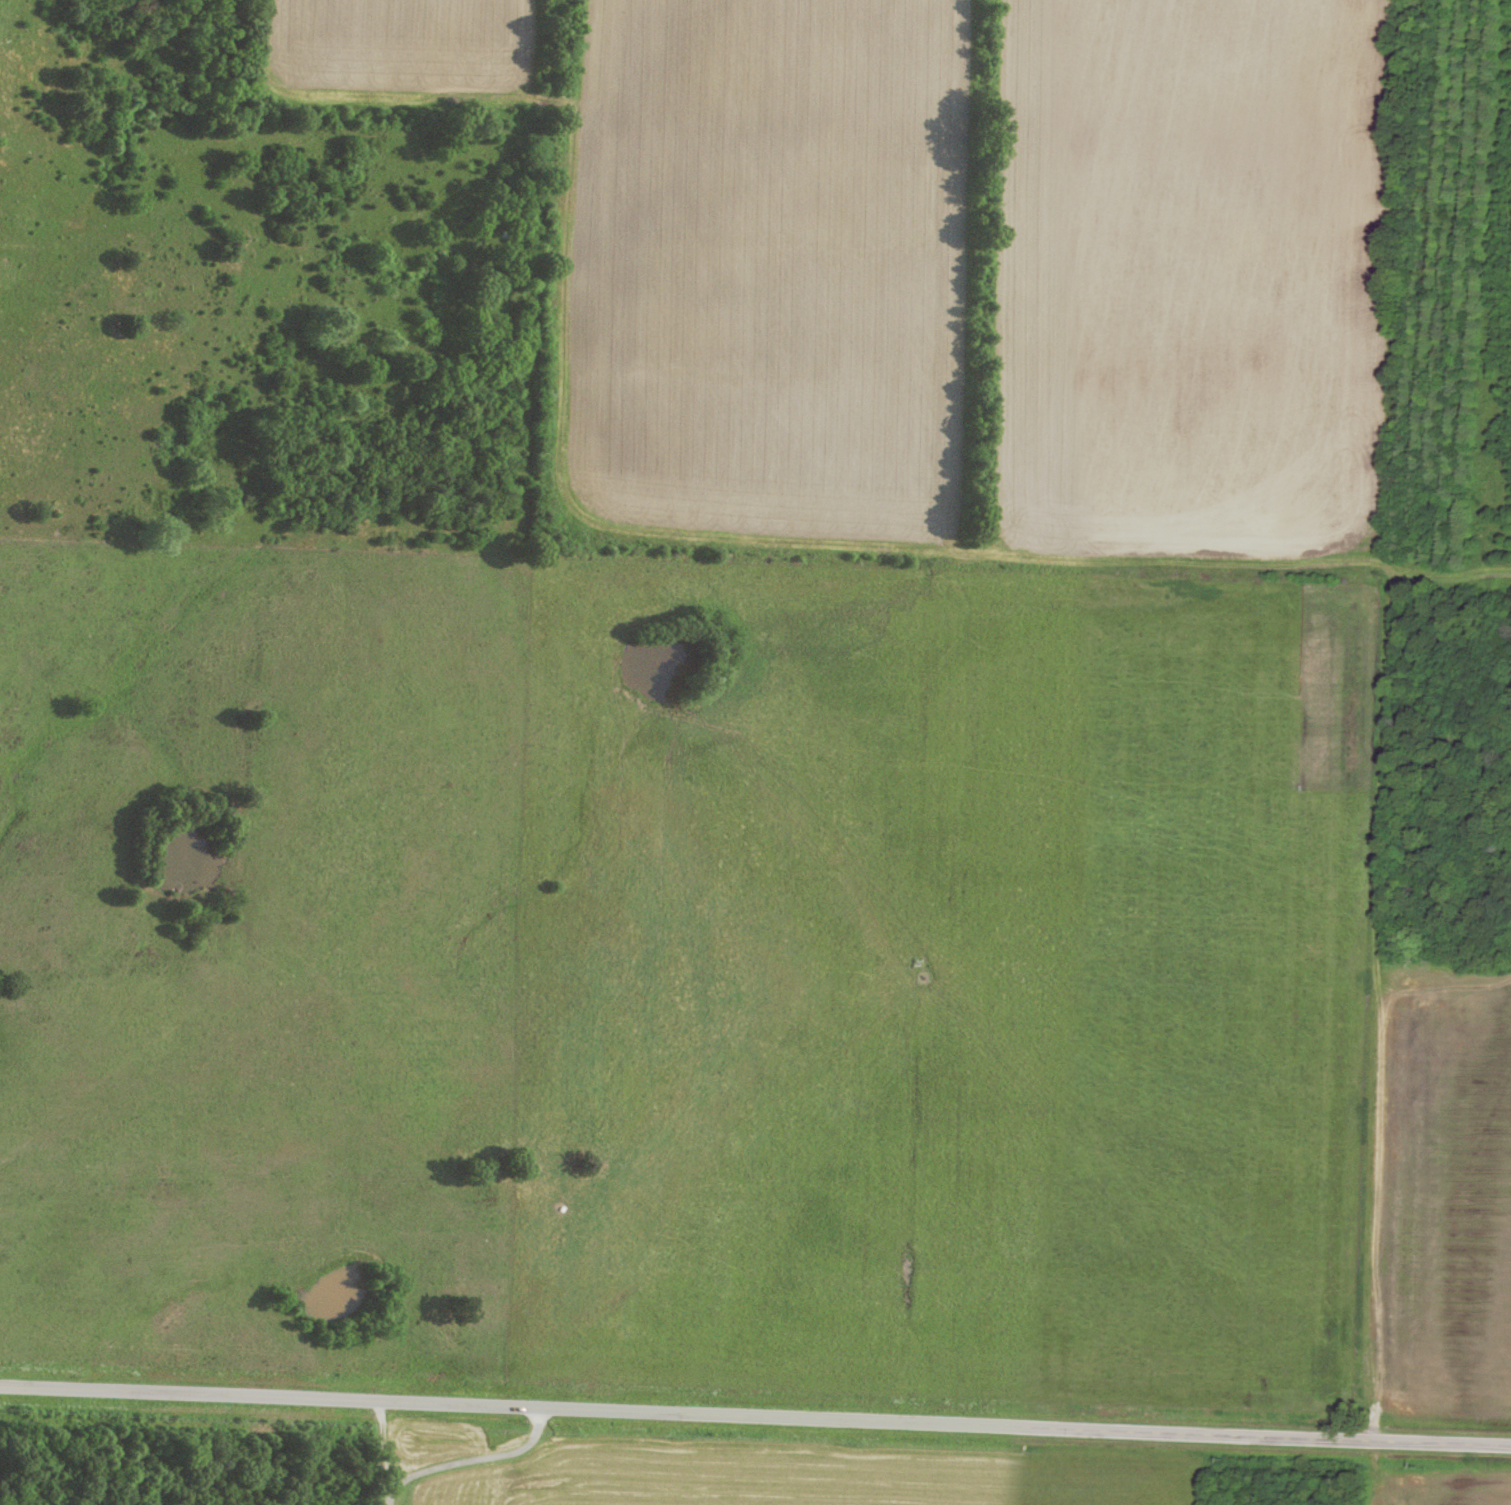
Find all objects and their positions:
road: (755, 1417)
road: (387, 1455)
road: (476, 1459)

